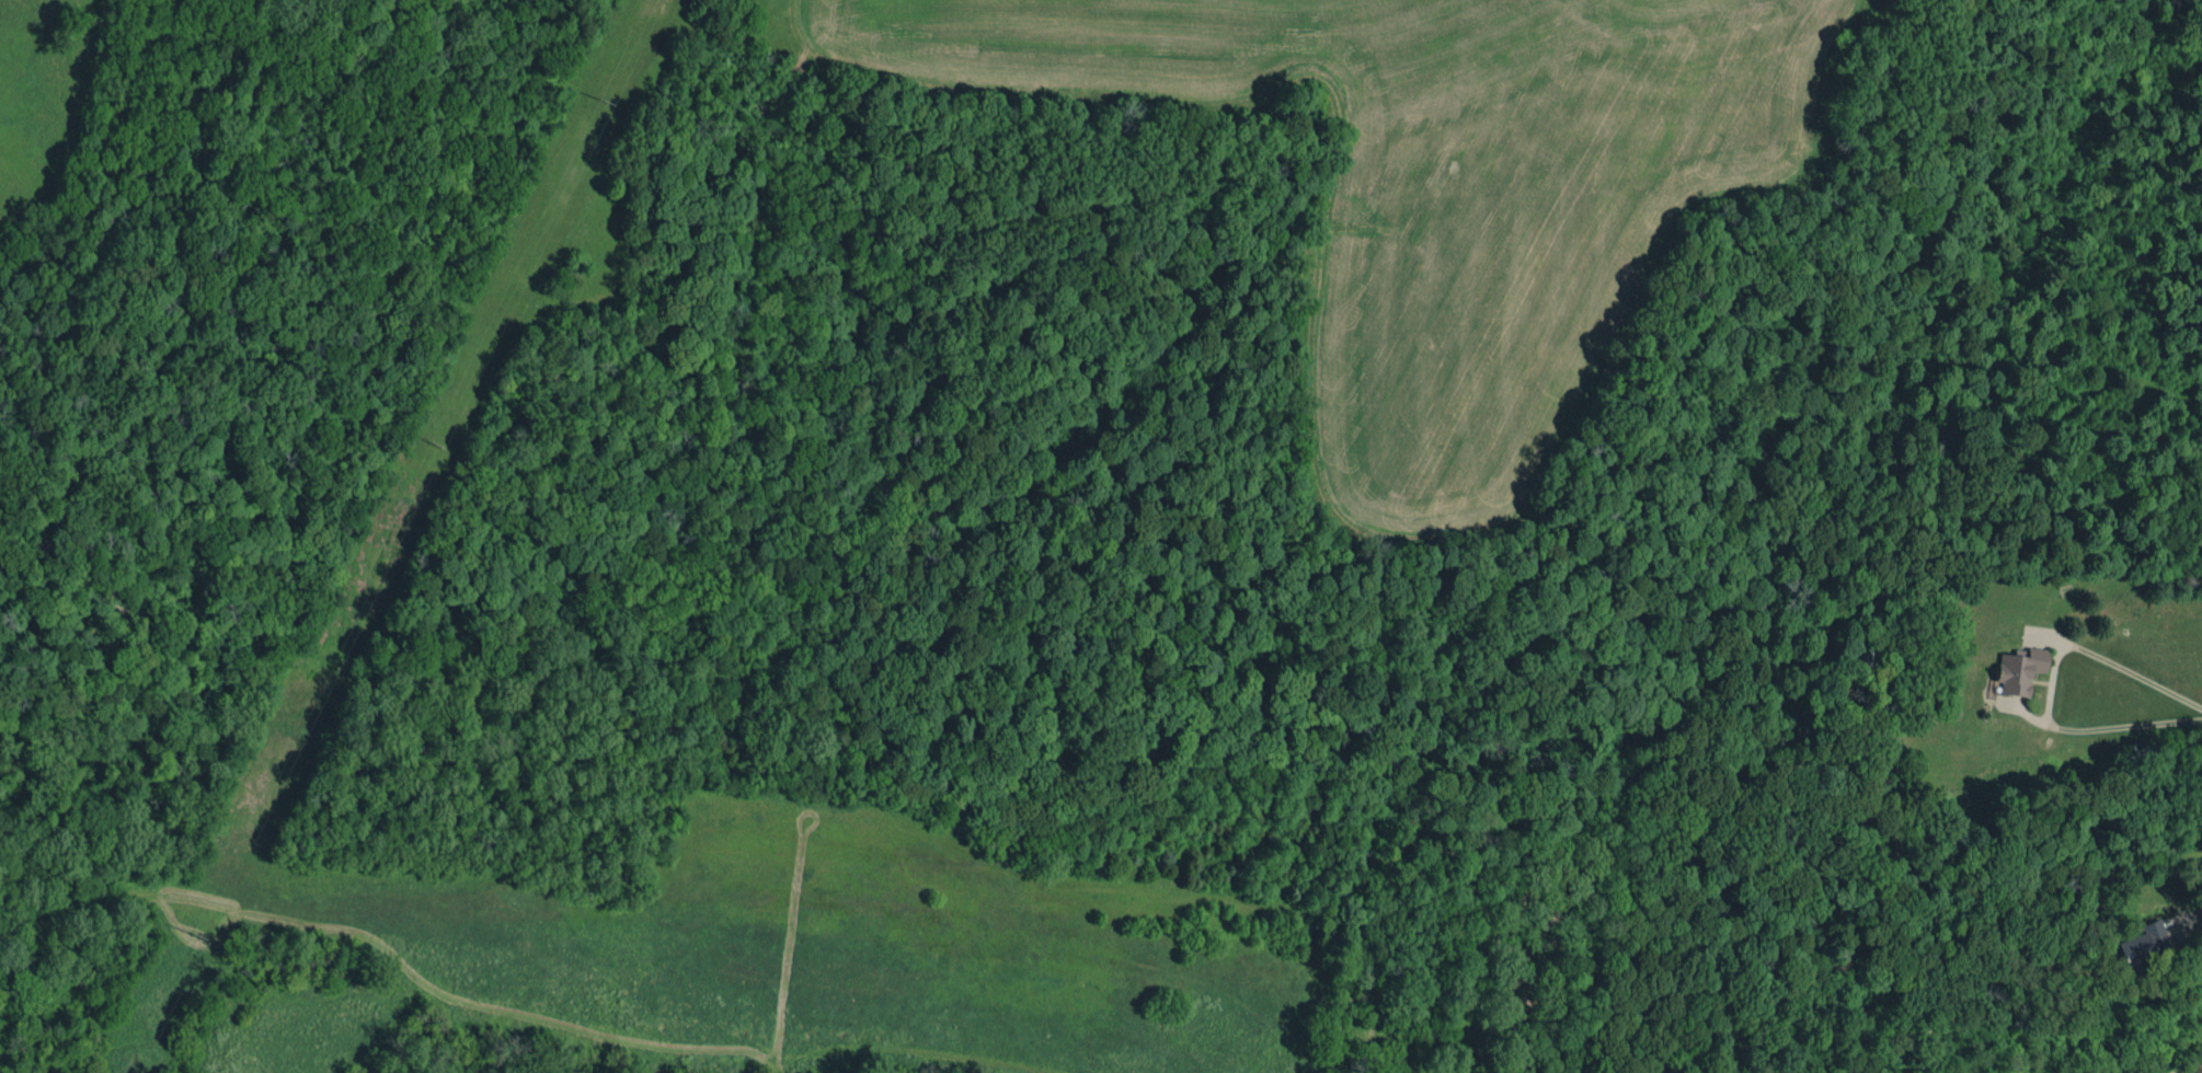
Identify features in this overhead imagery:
building: (2019, 670)
road: (2050, 682)
road: (2194, 918)
building: (2141, 946)
river: (2195, 1070)

